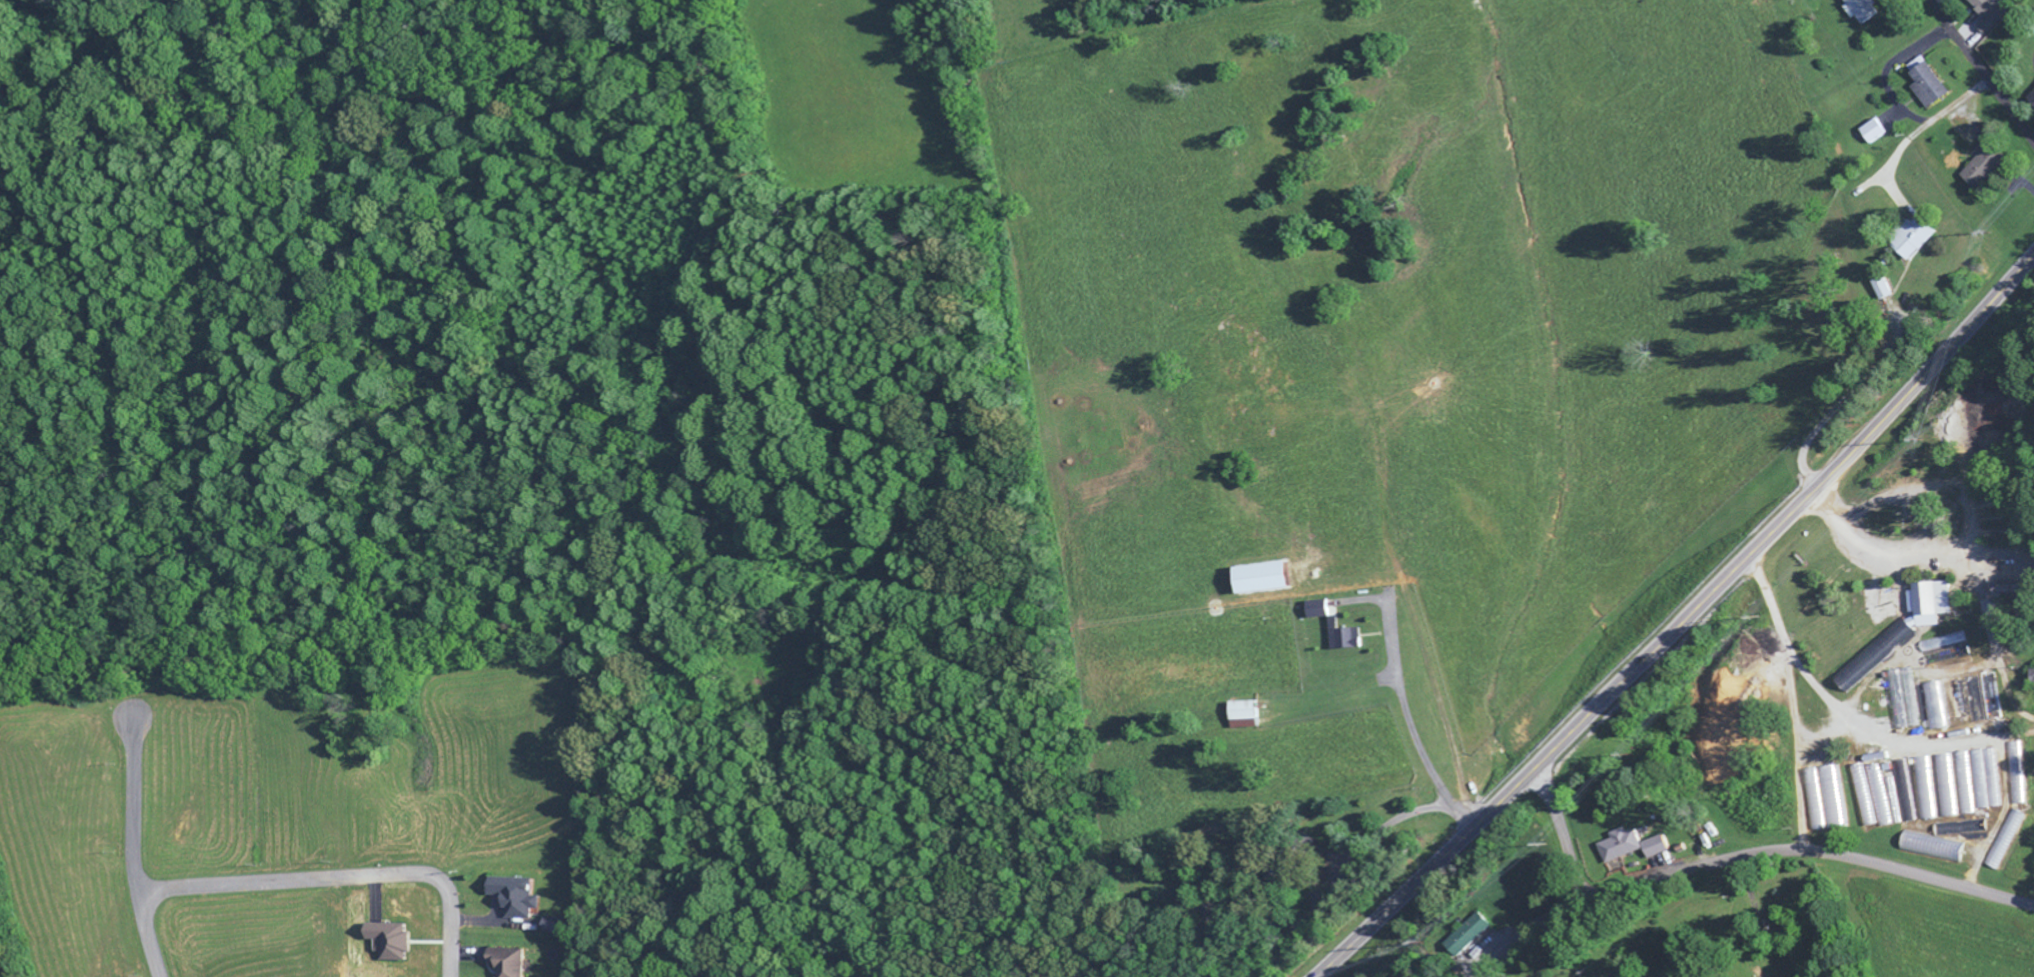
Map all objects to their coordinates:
building: (1861, 12)
building: (1988, 14)
road: (1982, 72)
building: (1929, 88)
building: (2031, 102)
building: (1871, 133)
building: (1982, 168)
building: (1917, 239)
building: (1884, 289)
building: (1262, 580)
building: (1928, 605)
building: (1315, 611)
road: (1683, 625)
building: (1343, 641)
building: (1873, 656)
building: (2032, 679)
road: (1840, 693)
building: (1933, 708)
building: (1243, 717)
building: (2010, 760)
building: (1960, 774)
building: (1983, 781)
building: (1943, 788)
building: (1922, 791)
building: (1860, 798)
building: (1829, 799)
building: (1888, 801)
building: (1811, 802)
building: (1965, 811)
road: (1560, 832)
road: (135, 840)
building: (2002, 841)
building: (1619, 847)
building: (1654, 849)
road: (1739, 859)
road: (340, 879)
building: (518, 898)
building: (555, 927)
building: (1469, 937)
building: (390, 943)
building: (509, 963)

